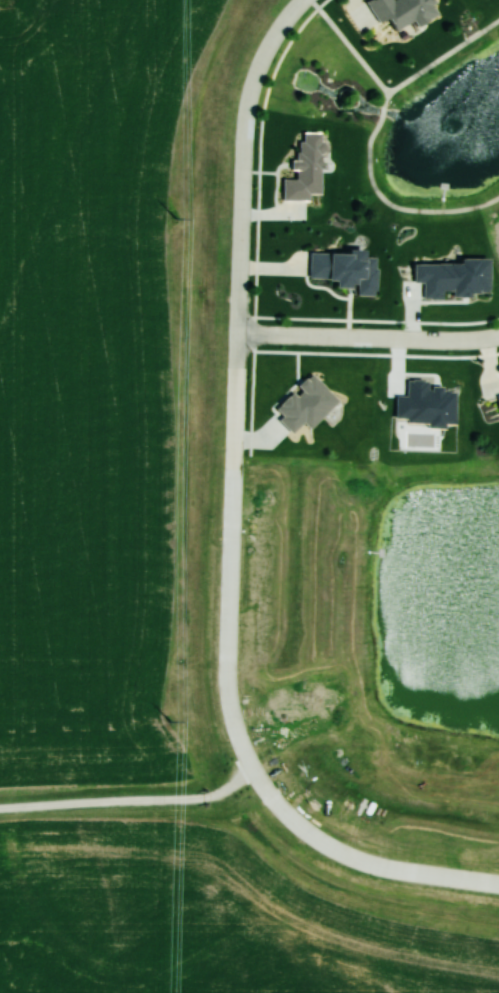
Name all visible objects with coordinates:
road: (271, 40)
road: (350, 45)
road: (443, 56)
road: (386, 98)
road: (383, 111)
road: (398, 206)
power tower: (176, 221)
road: (368, 338)
road: (234, 428)
power tower: (169, 724)
road: (354, 863)

